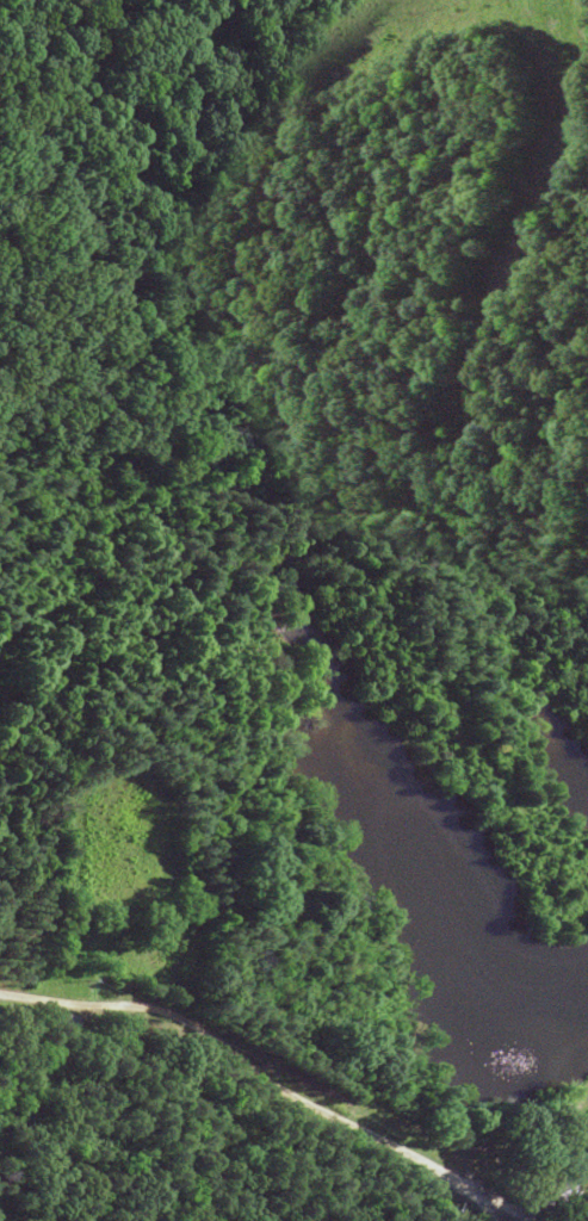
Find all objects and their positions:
building: (72, 1025)

